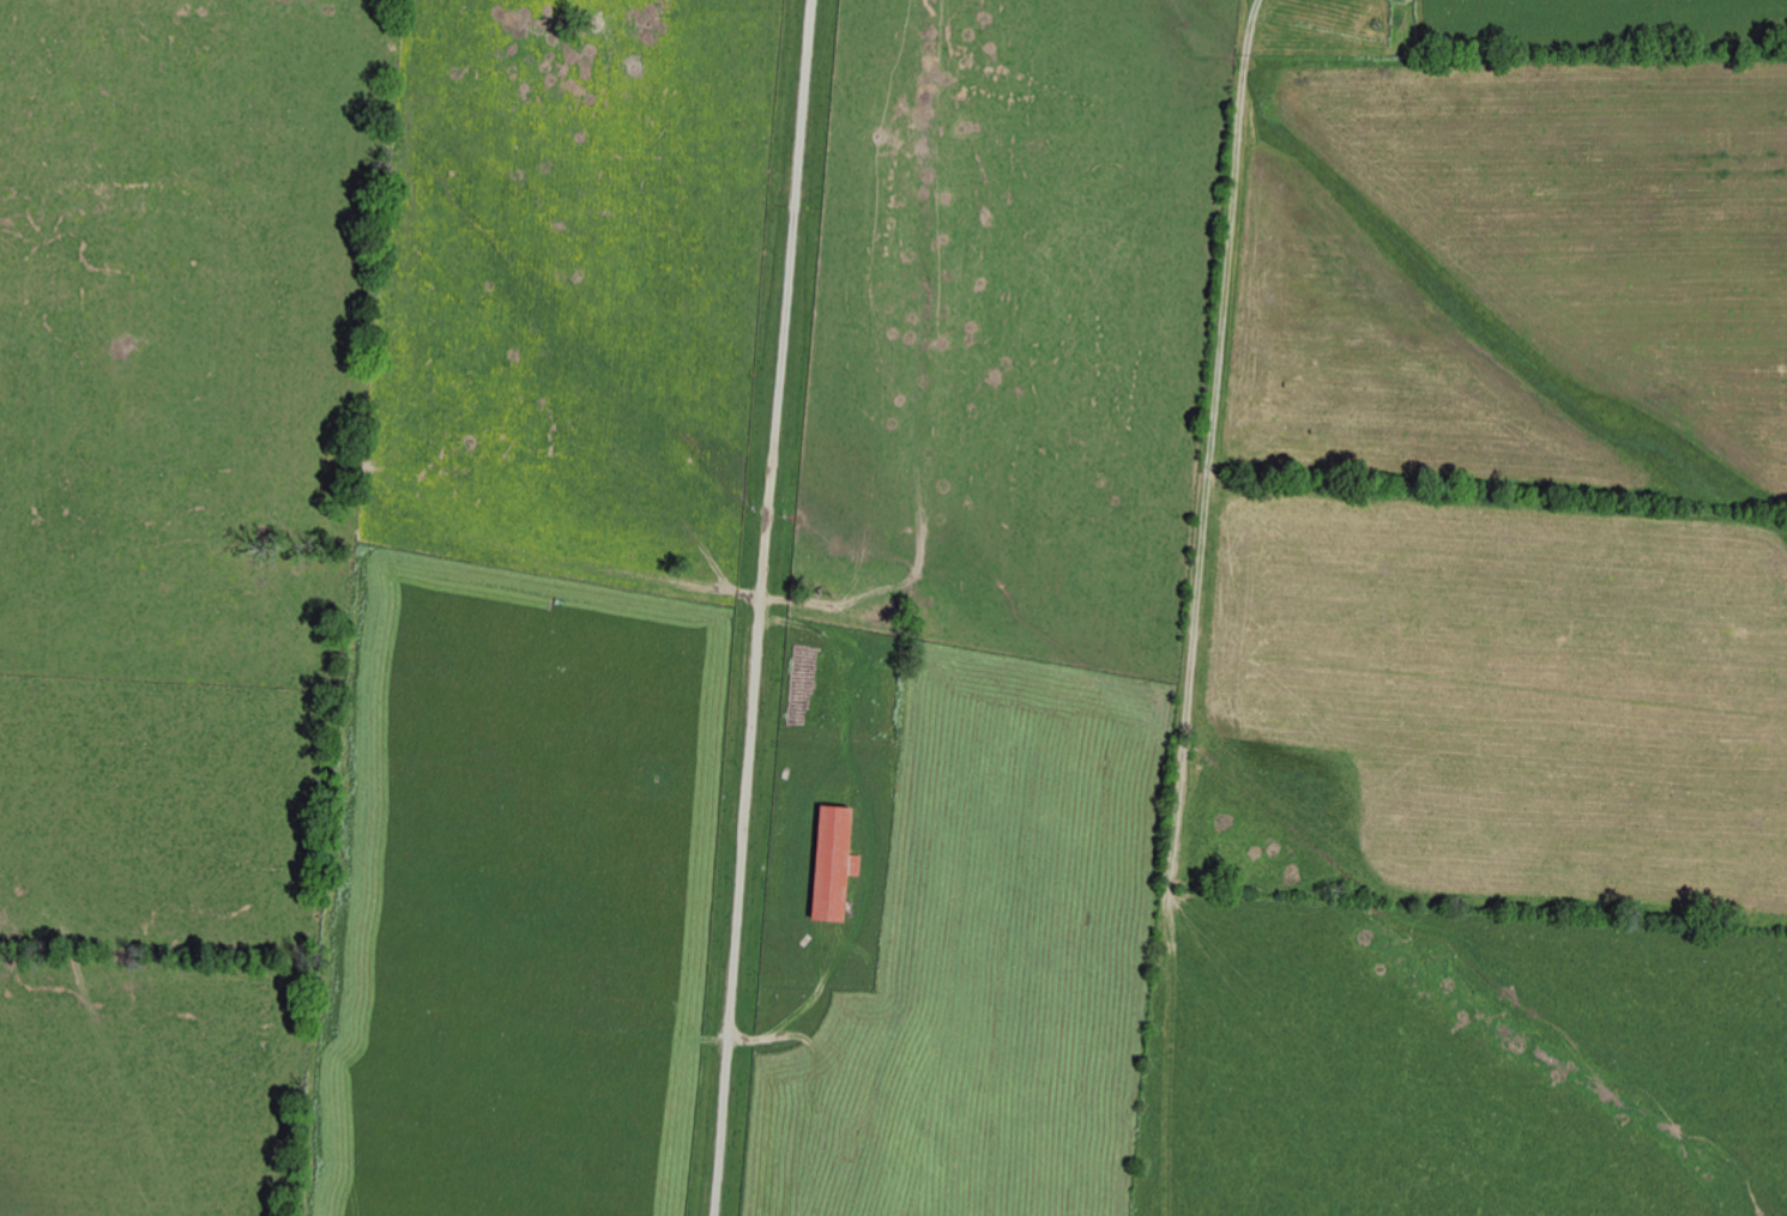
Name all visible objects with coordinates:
building: (829, 863)
building: (852, 865)

